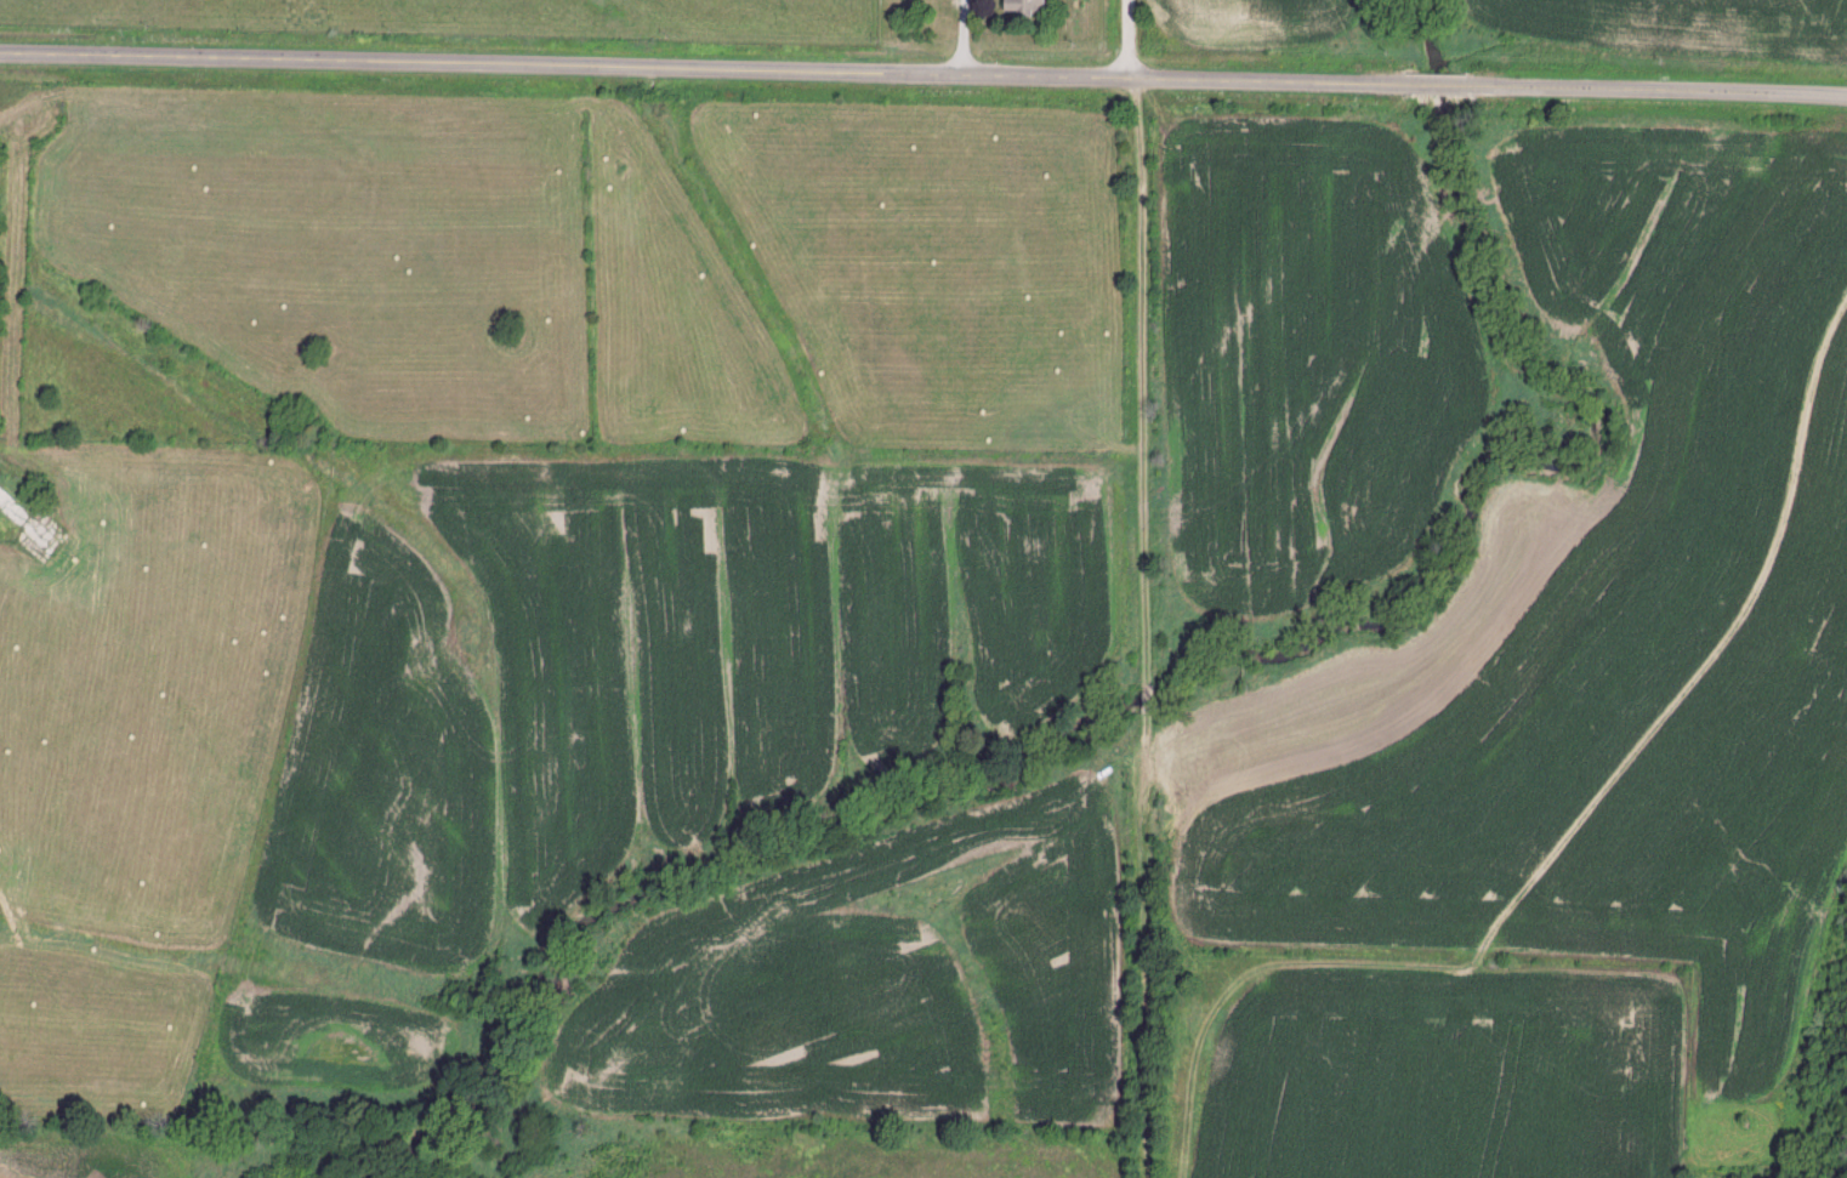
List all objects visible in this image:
building: (1018, 5)
road: (923, 72)
road: (1127, 588)

